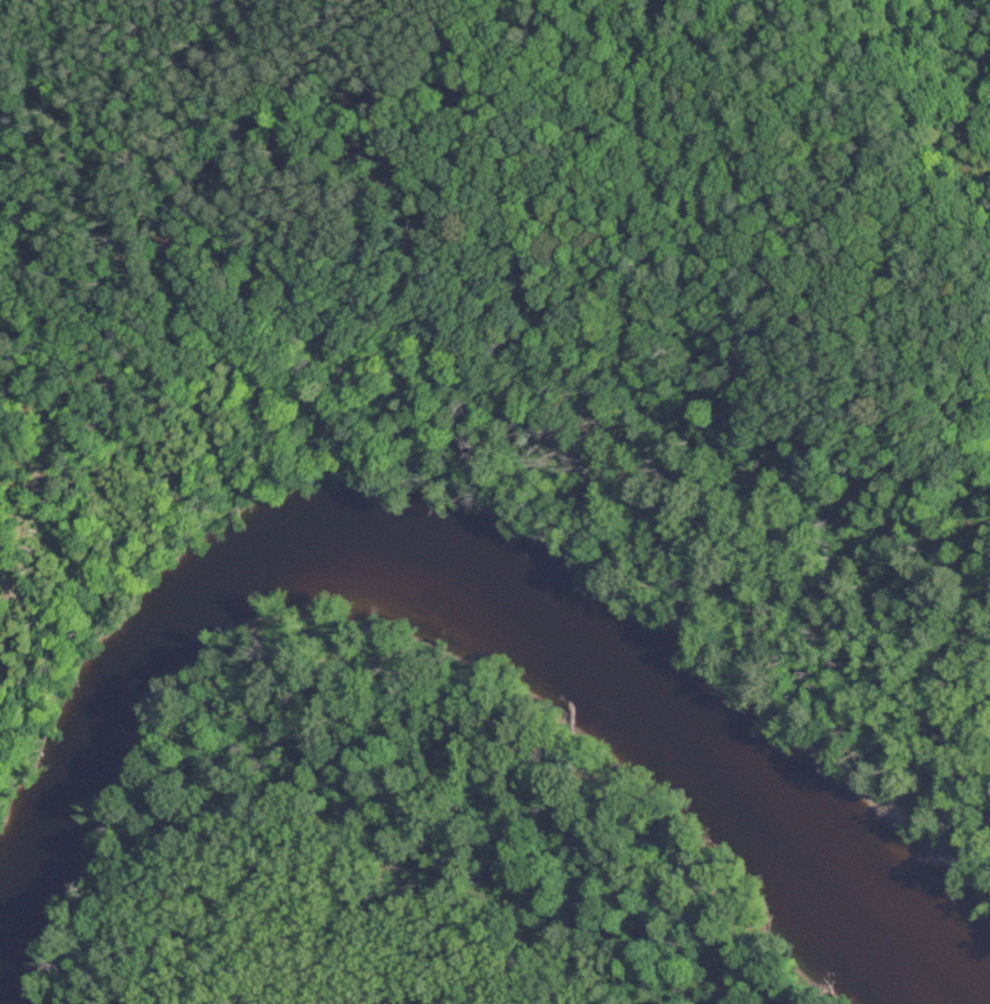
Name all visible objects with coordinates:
river: (434, 567)

